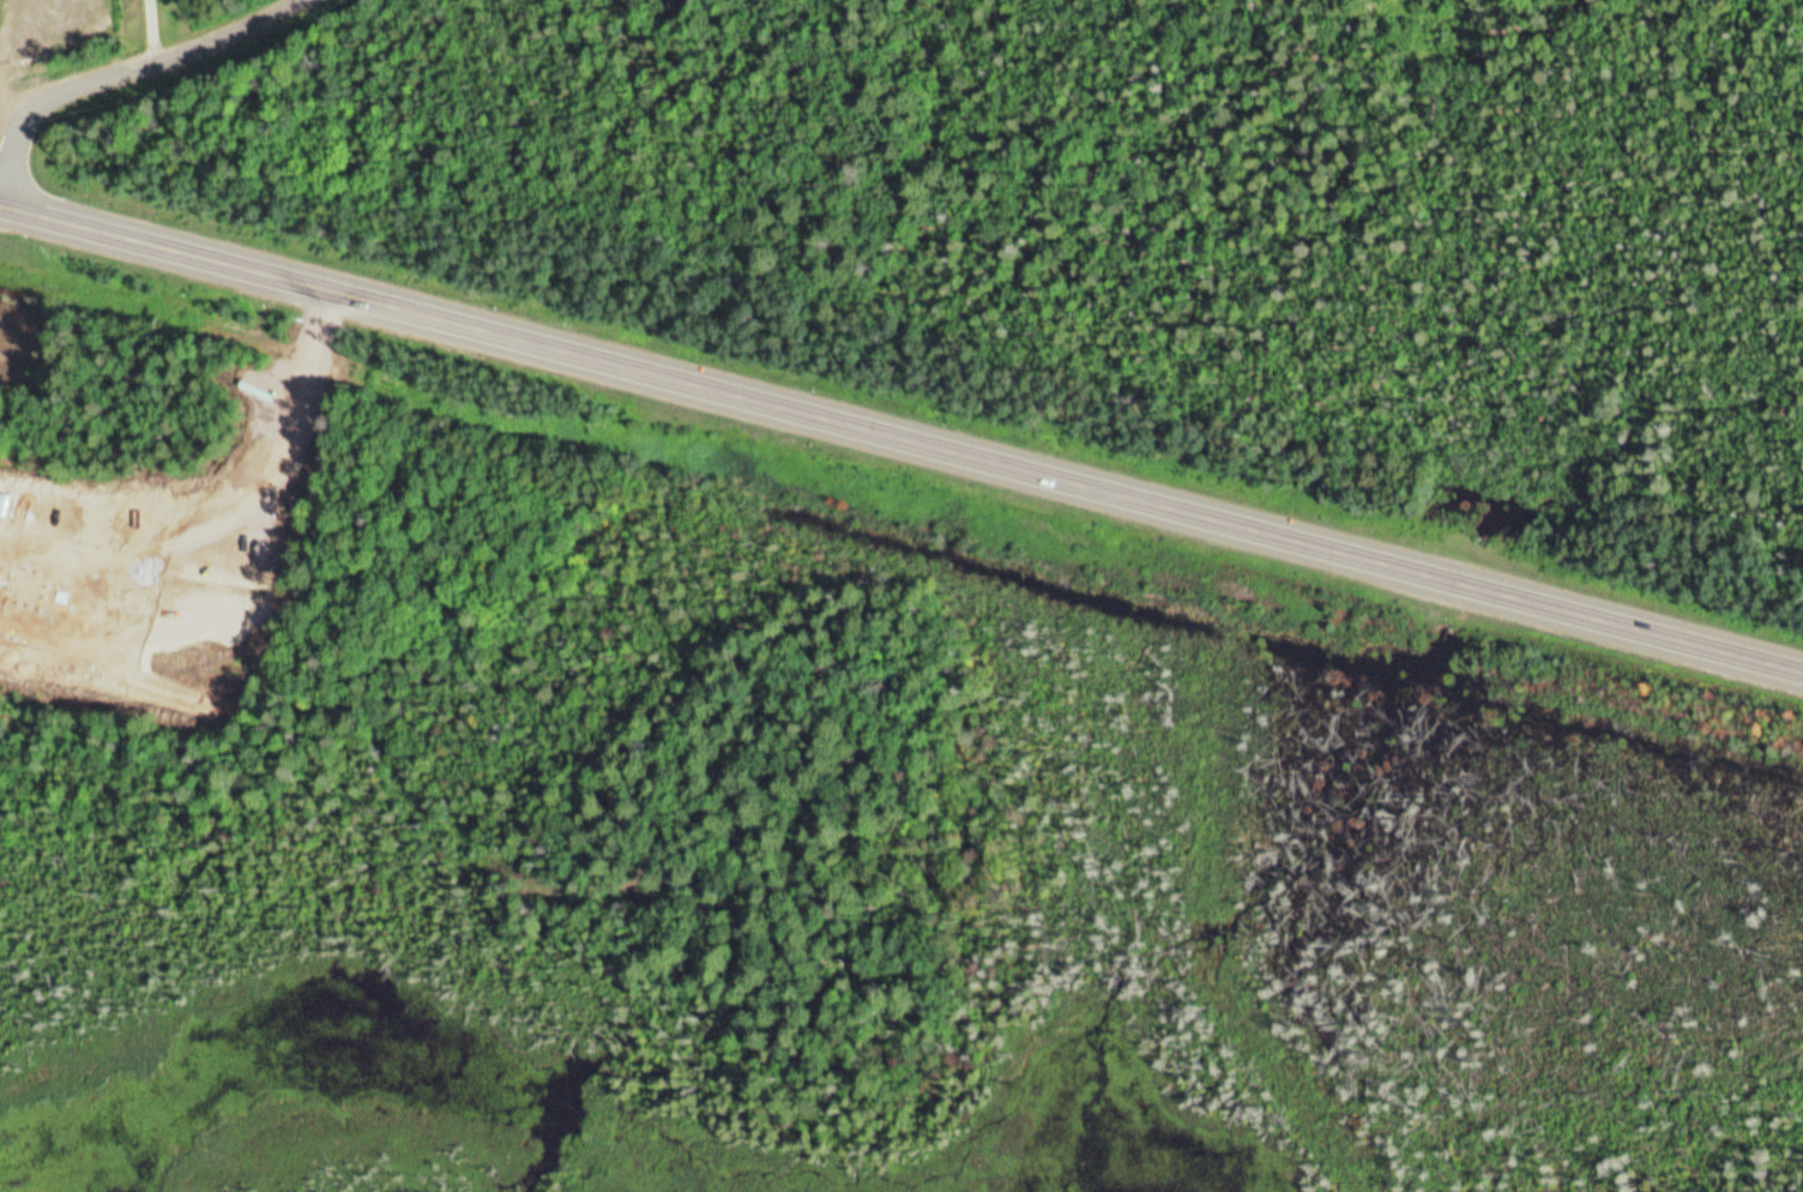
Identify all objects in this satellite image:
road: (140, 70)
road: (896, 432)
road: (1798, 662)
road: (1213, 873)

